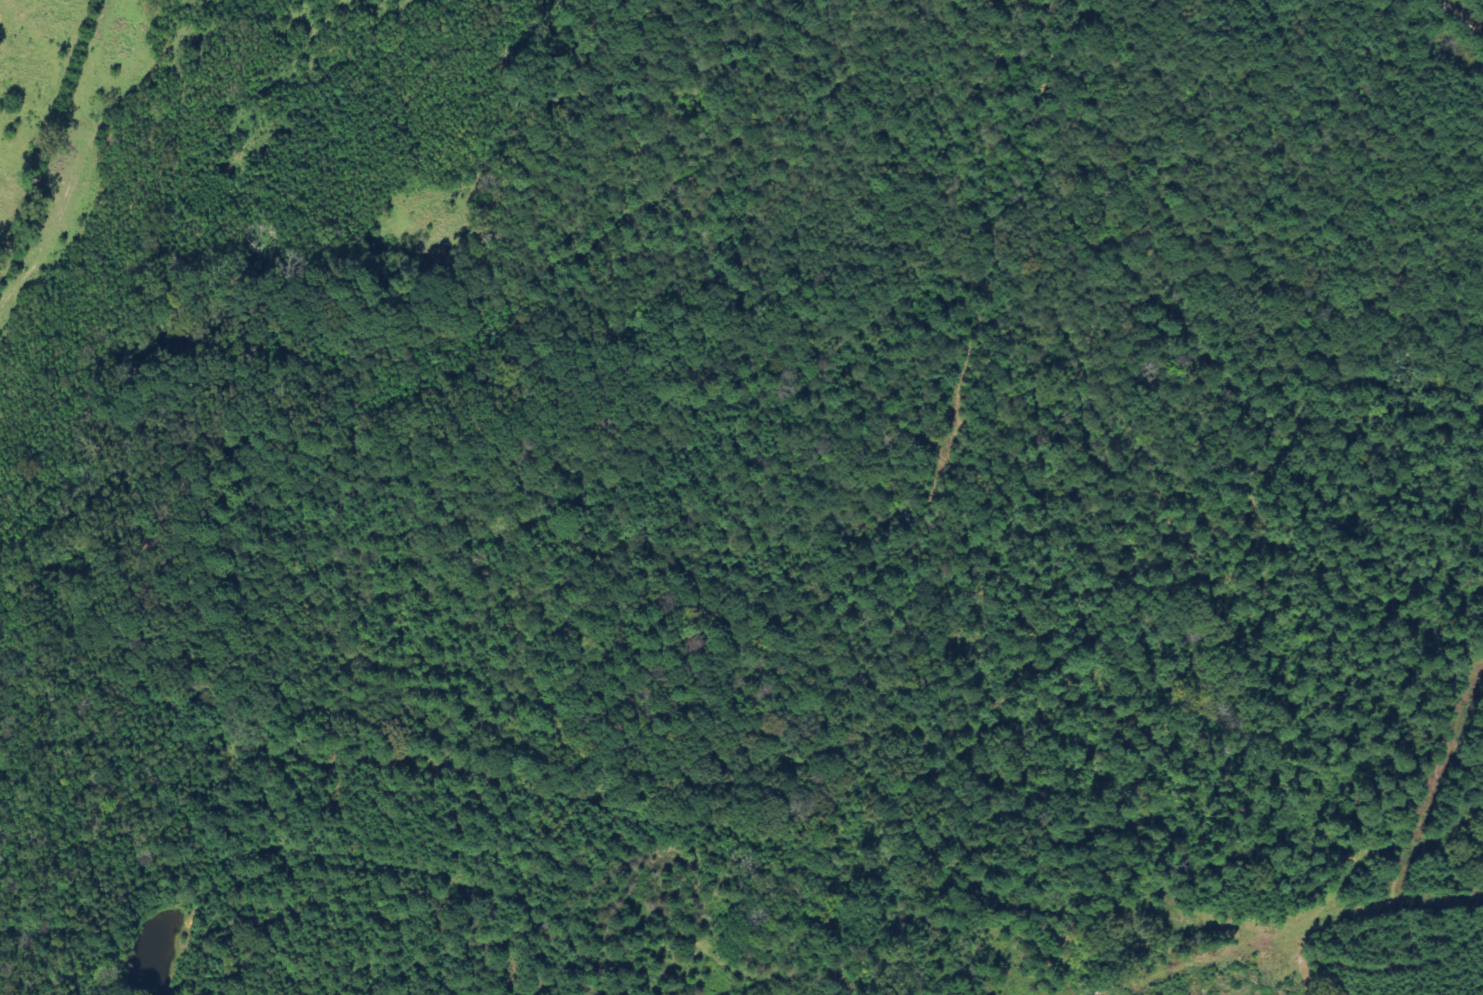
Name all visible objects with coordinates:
road: (1459, 14)

